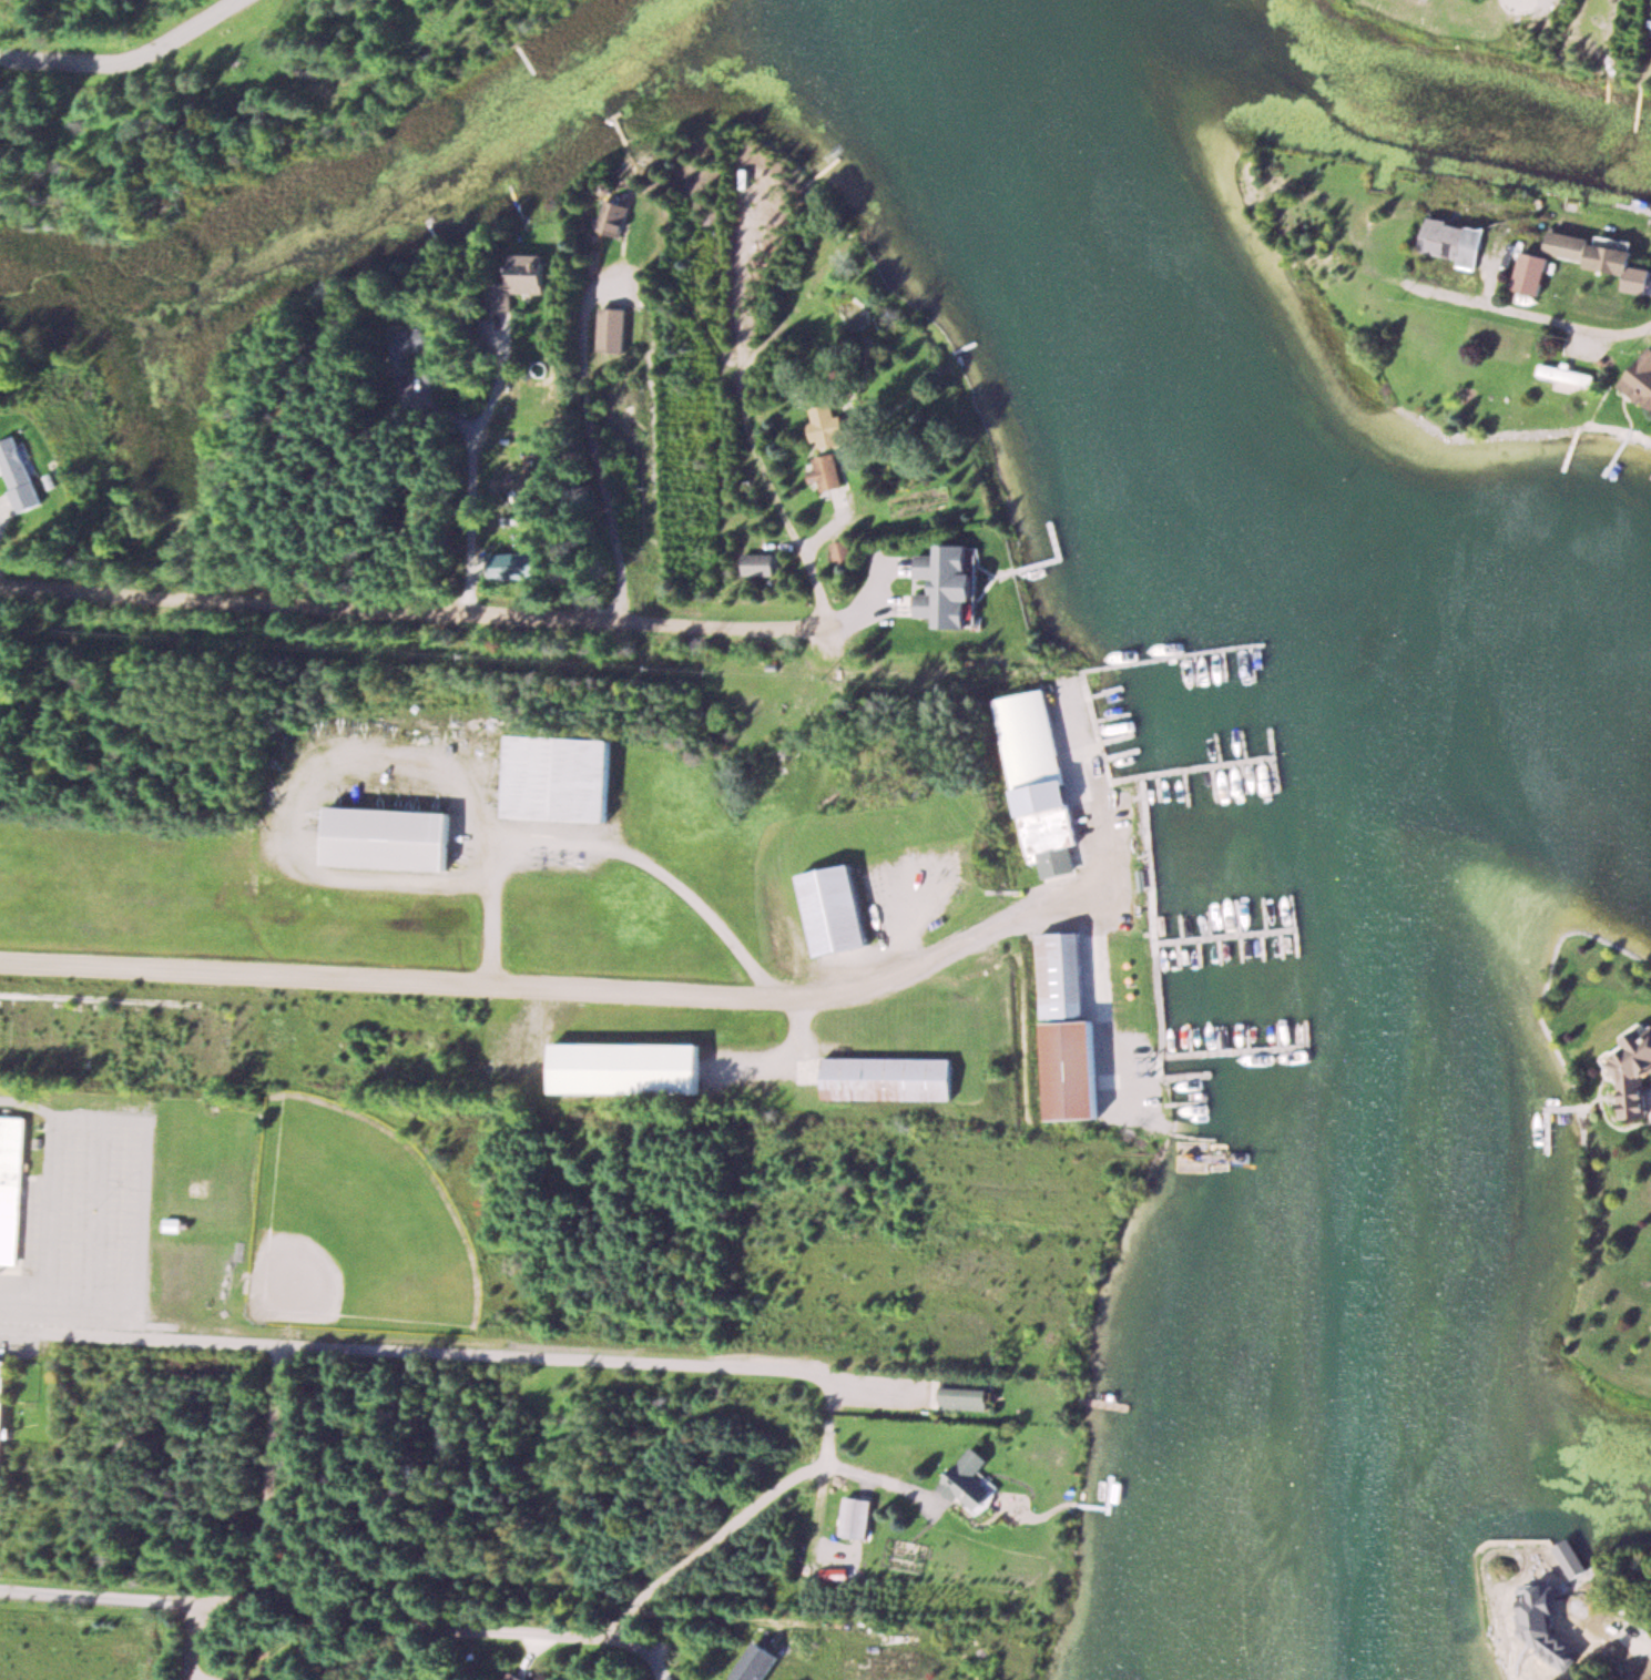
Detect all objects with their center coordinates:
road: (132, 62)
building: (619, 216)
building: (1459, 241)
building: (1600, 252)
building: (530, 276)
road: (1577, 324)
building: (613, 329)
building: (414, 346)
building: (1576, 373)
building: (1643, 380)
building: (828, 426)
building: (827, 471)
building: (21, 474)
building: (843, 551)
building: (758, 562)
building: (516, 564)
building: (952, 584)
road: (447, 611)
river: (1498, 707)
building: (560, 776)
building: (1039, 781)
river: (1343, 806)
building: (389, 837)
building: (836, 909)
building: (1059, 975)
building: (1125, 986)
road: (537, 994)
building: (222, 1035)
building: (630, 1067)
building: (1072, 1069)
building: (1631, 1072)
building: (891, 1078)
building: (12, 1189)
park: (350, 1224)
road: (412, 1346)
building: (969, 1393)
building: (3, 1416)
building: (972, 1479)
building: (859, 1516)
building: (1571, 1549)
road: (305, 1613)
building: (1580, 1628)
road: (197, 1639)
building: (514, 1677)

